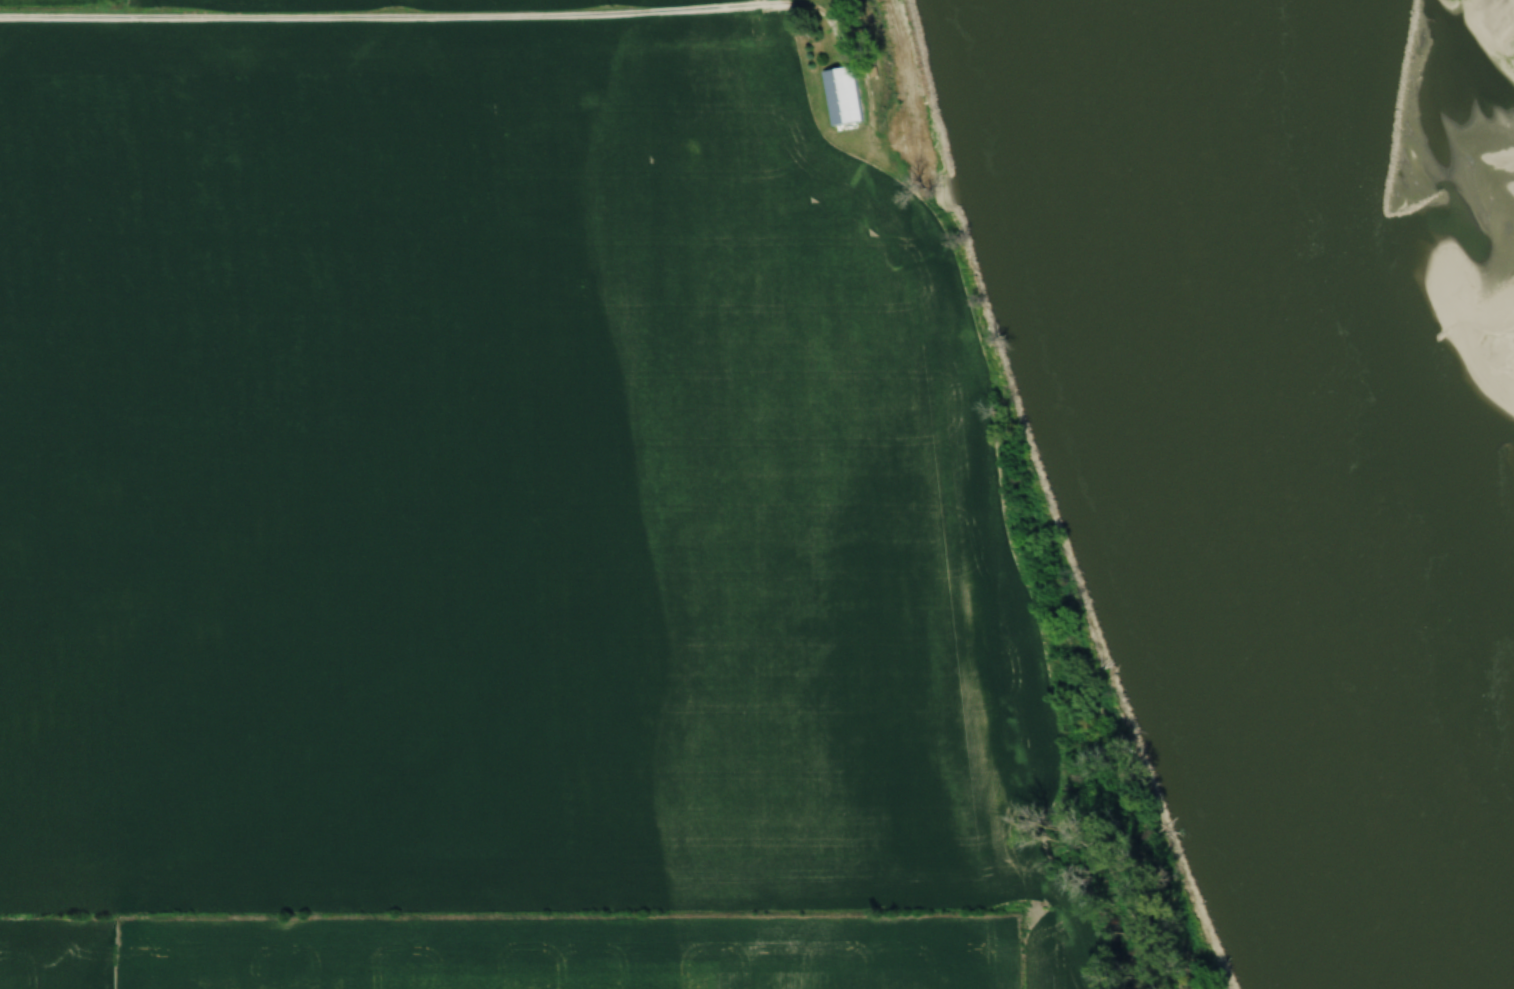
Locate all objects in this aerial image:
road: (849, 61)
building: (851, 96)
river: (1286, 494)

